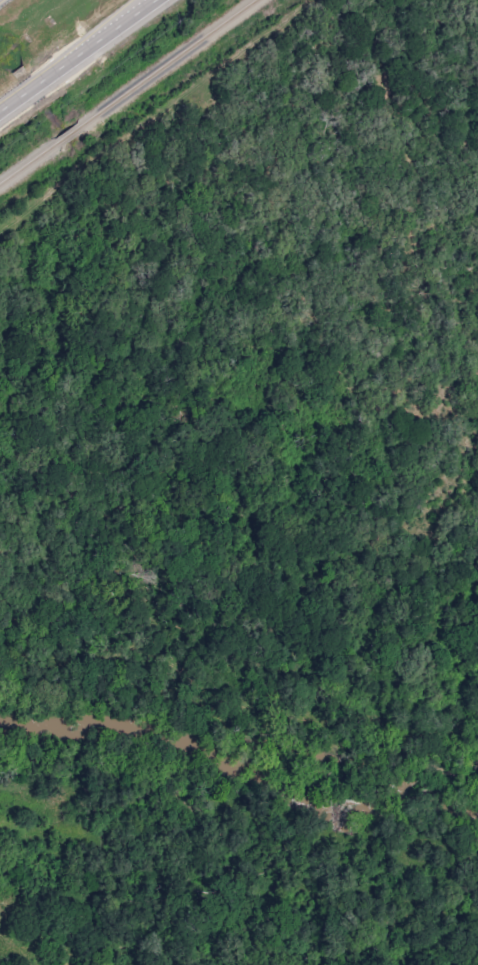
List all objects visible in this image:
road: (84, 60)
railway: (127, 91)
river: (238, 766)

